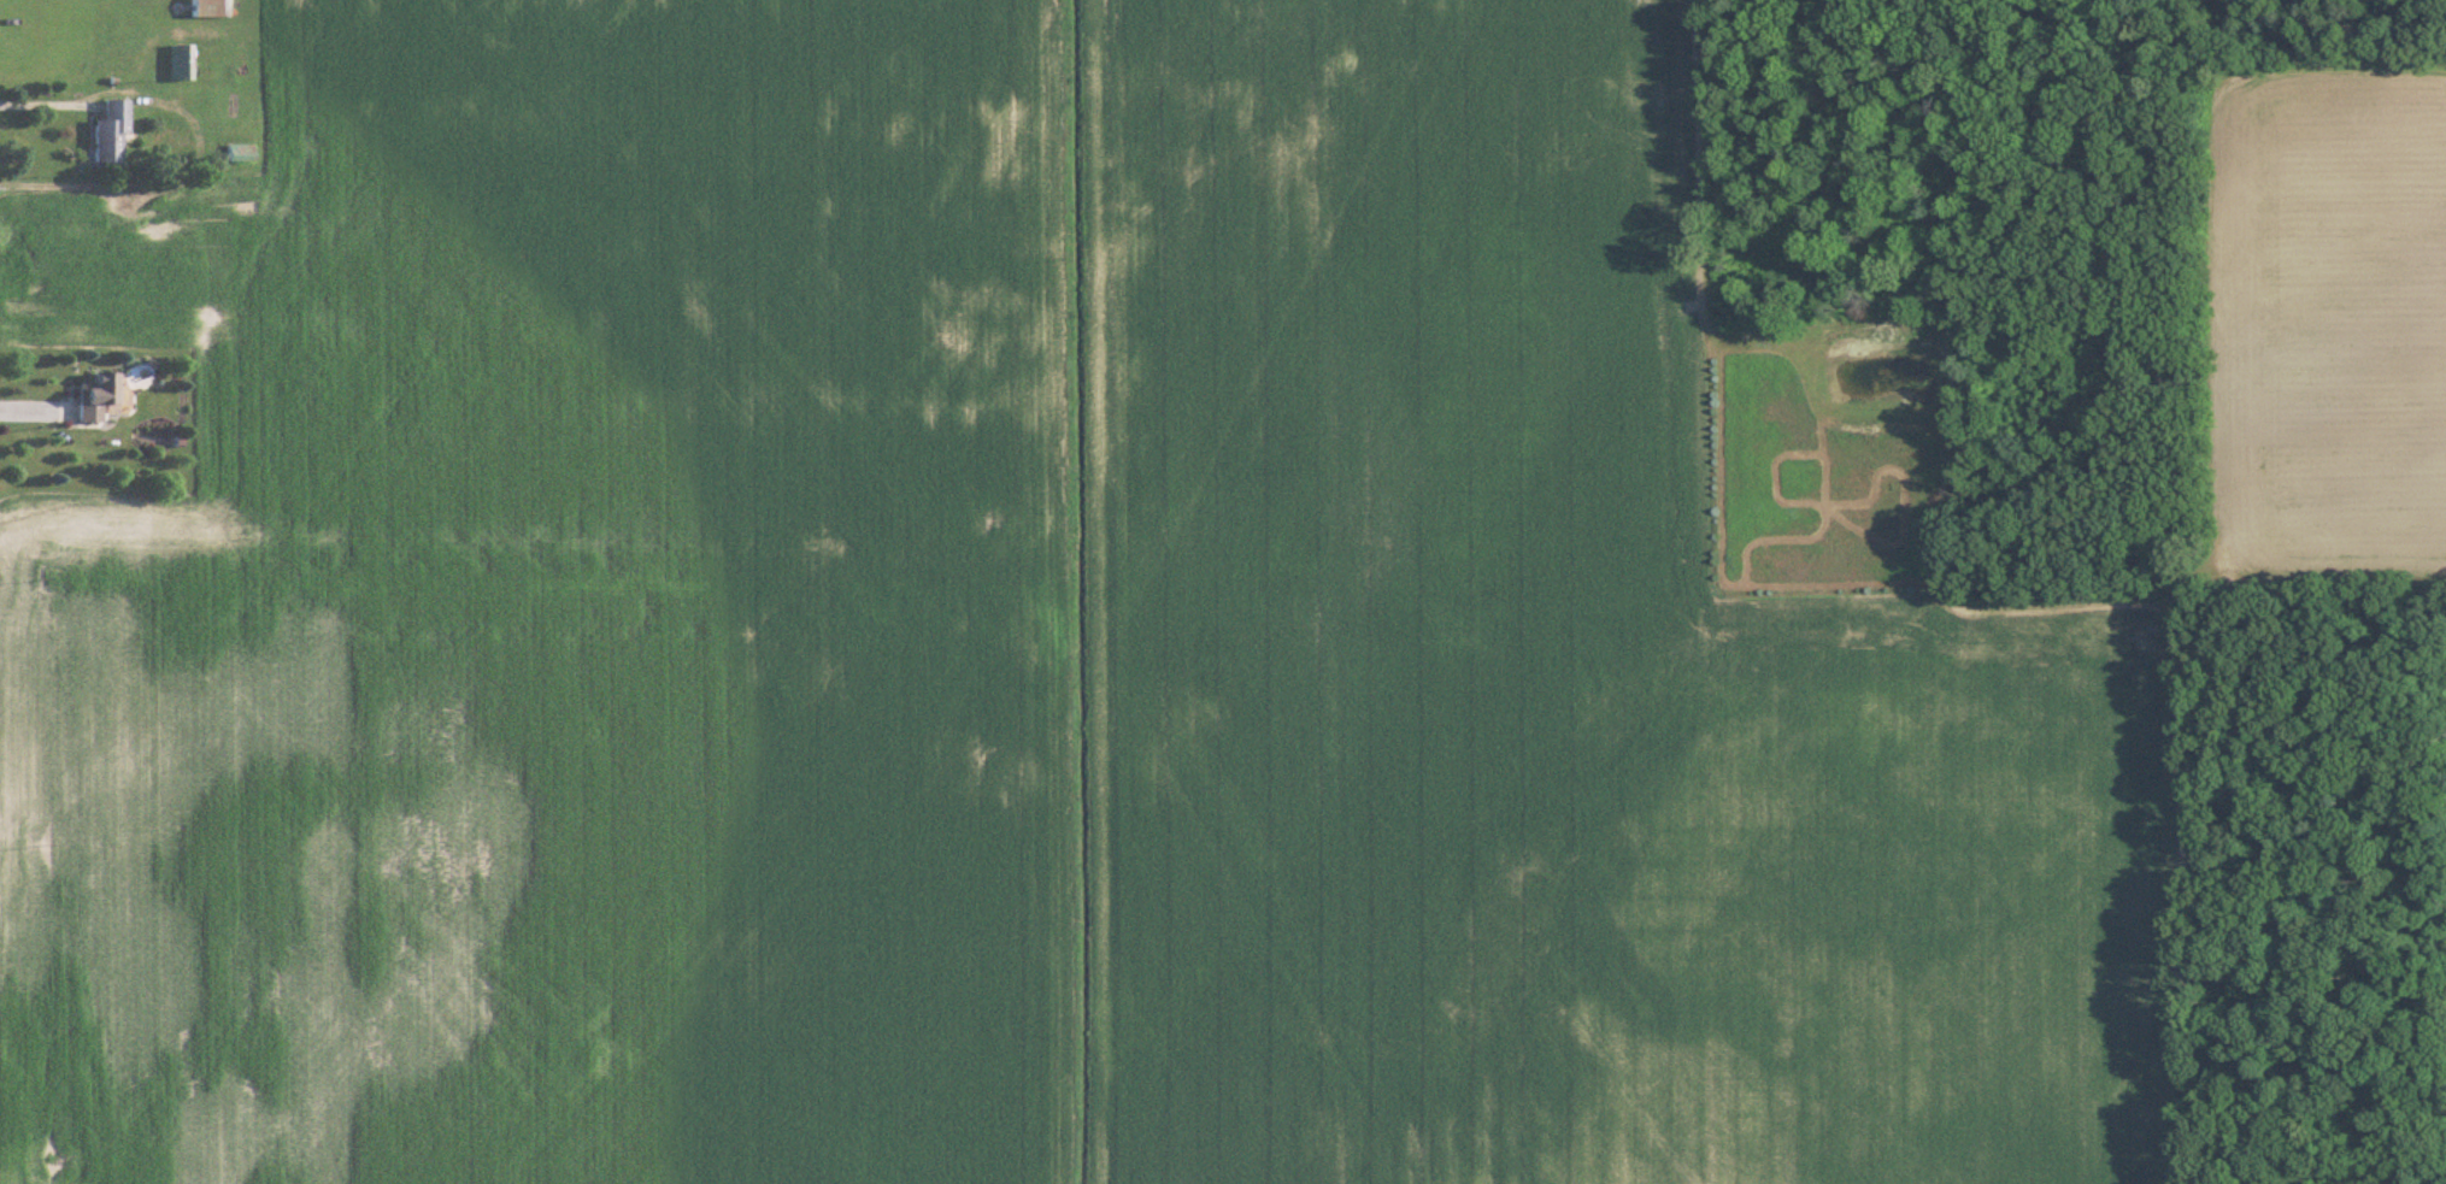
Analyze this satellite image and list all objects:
building: (207, 7)
building: (105, 132)
building: (90, 394)

